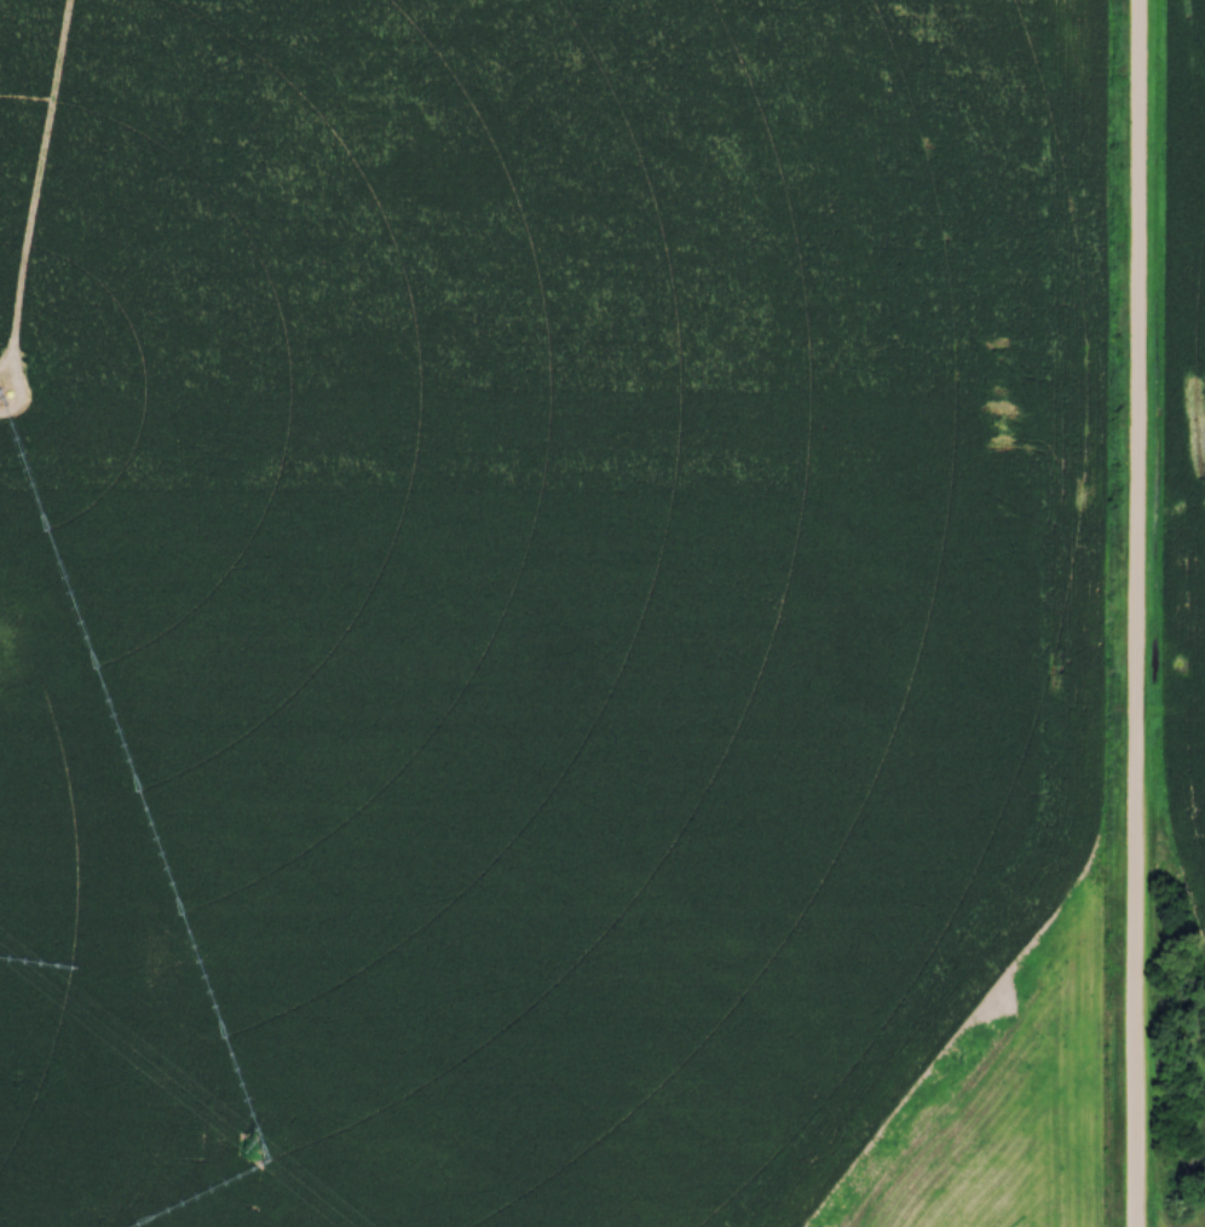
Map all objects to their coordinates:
road: (1137, 612)
power tower: (252, 1142)

